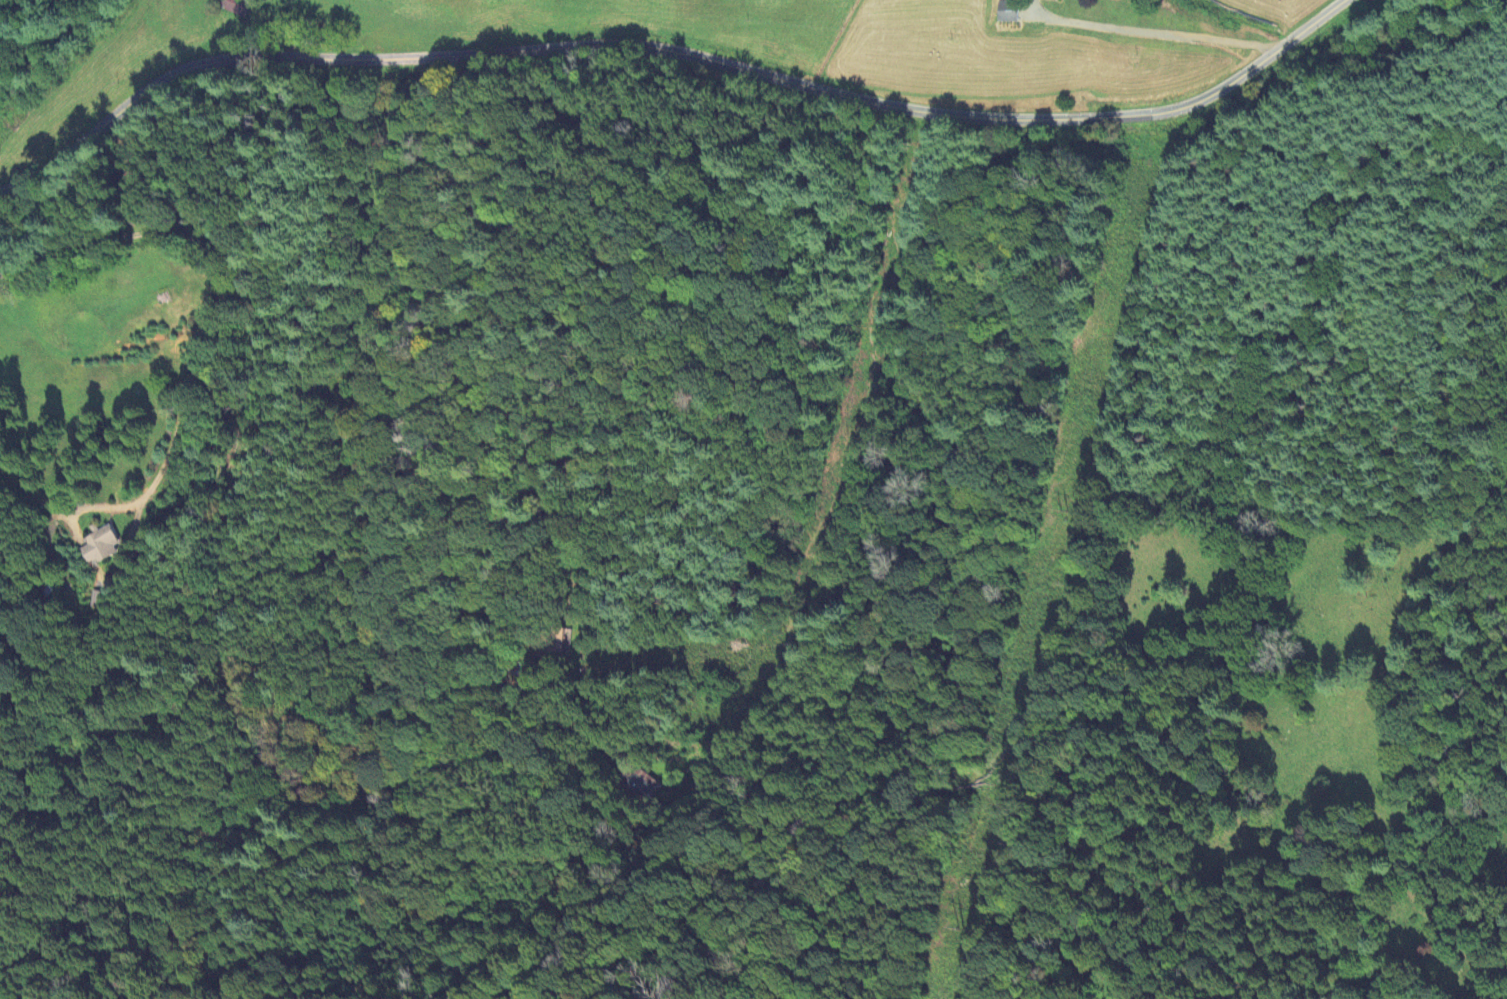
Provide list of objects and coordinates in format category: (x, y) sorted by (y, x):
building: (238, 6)
building: (1008, 11)
road: (1153, 32)
road: (1301, 33)
road: (618, 47)
building: (565, 641)
building: (644, 785)

